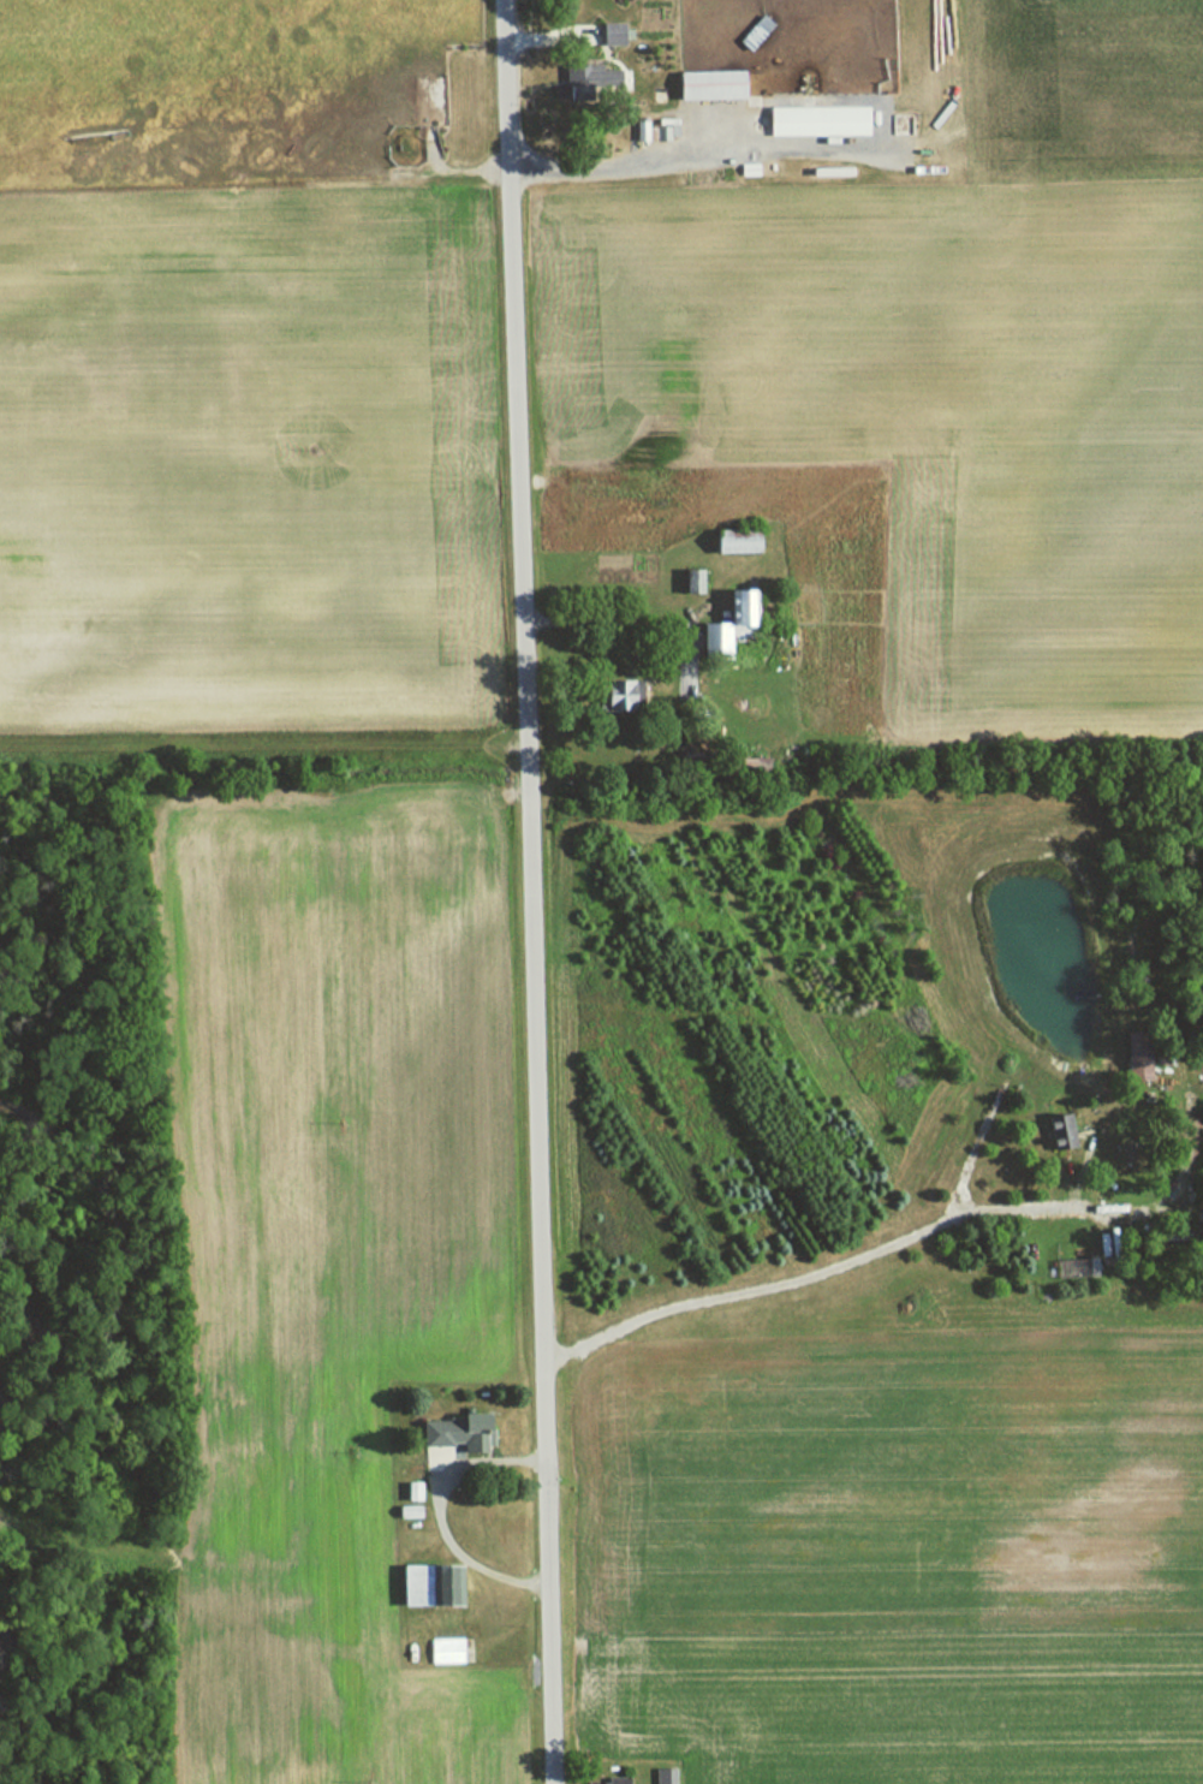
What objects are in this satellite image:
building: (613, 35)
building: (711, 85)
crop: (1084, 100)
building: (820, 121)
road: (624, 166)
crop: (237, 374)
crop: (936, 420)
building: (609, 695)
road: (532, 891)
building: (1128, 1059)
building: (1053, 1132)
crop: (320, 1243)
road: (804, 1274)
building: (449, 1432)
building: (409, 1491)
crop: (907, 1545)
building: (424, 1586)
building: (441, 1651)
building: (659, 1776)
building: (605, 1780)

